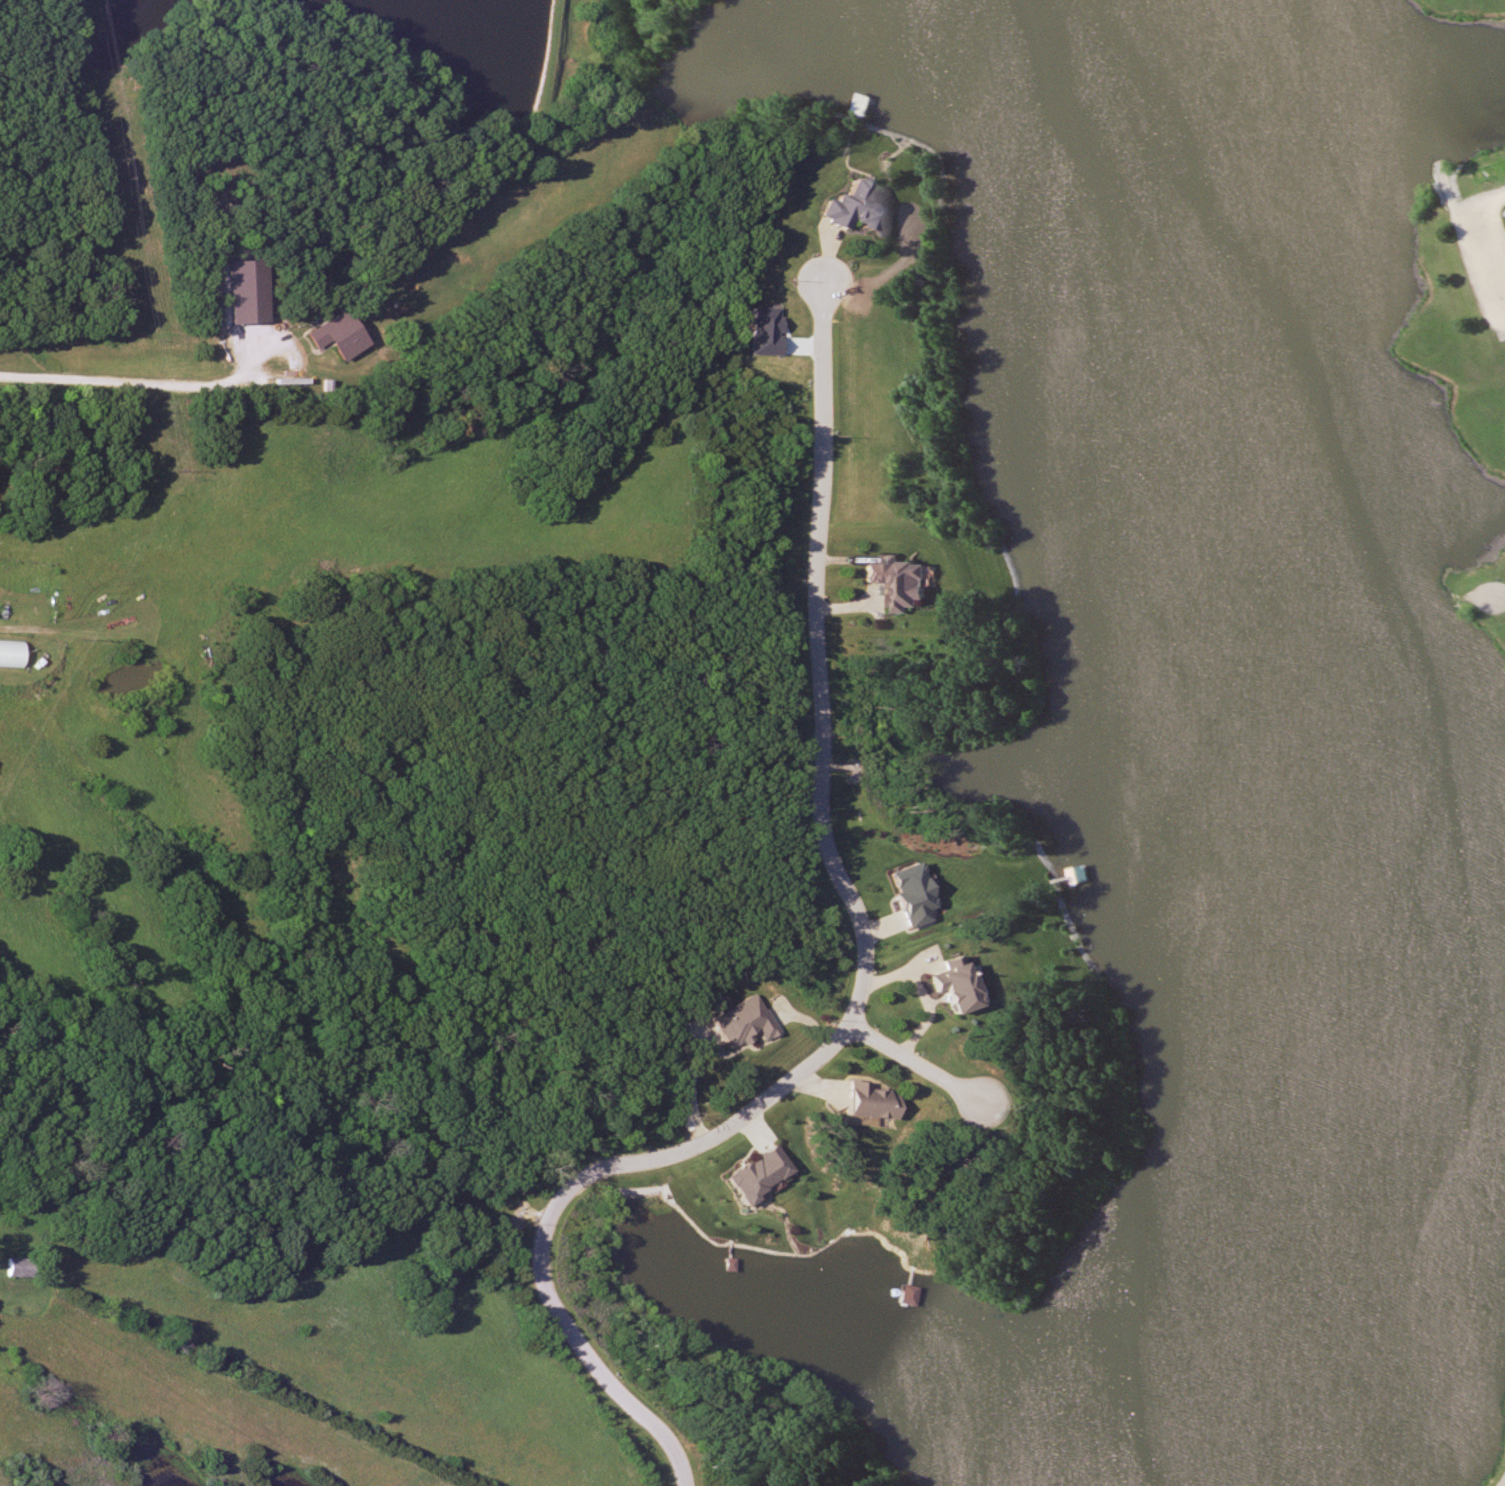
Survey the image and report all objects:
road: (1480, 203)
building: (849, 208)
building: (331, 335)
road: (255, 360)
road: (119, 381)
building: (883, 581)
road: (1494, 591)
building: (8, 653)
park: (752, 743)
building: (946, 985)
road: (860, 993)
road: (913, 1063)
building: (863, 1101)
road: (1500, 1481)

